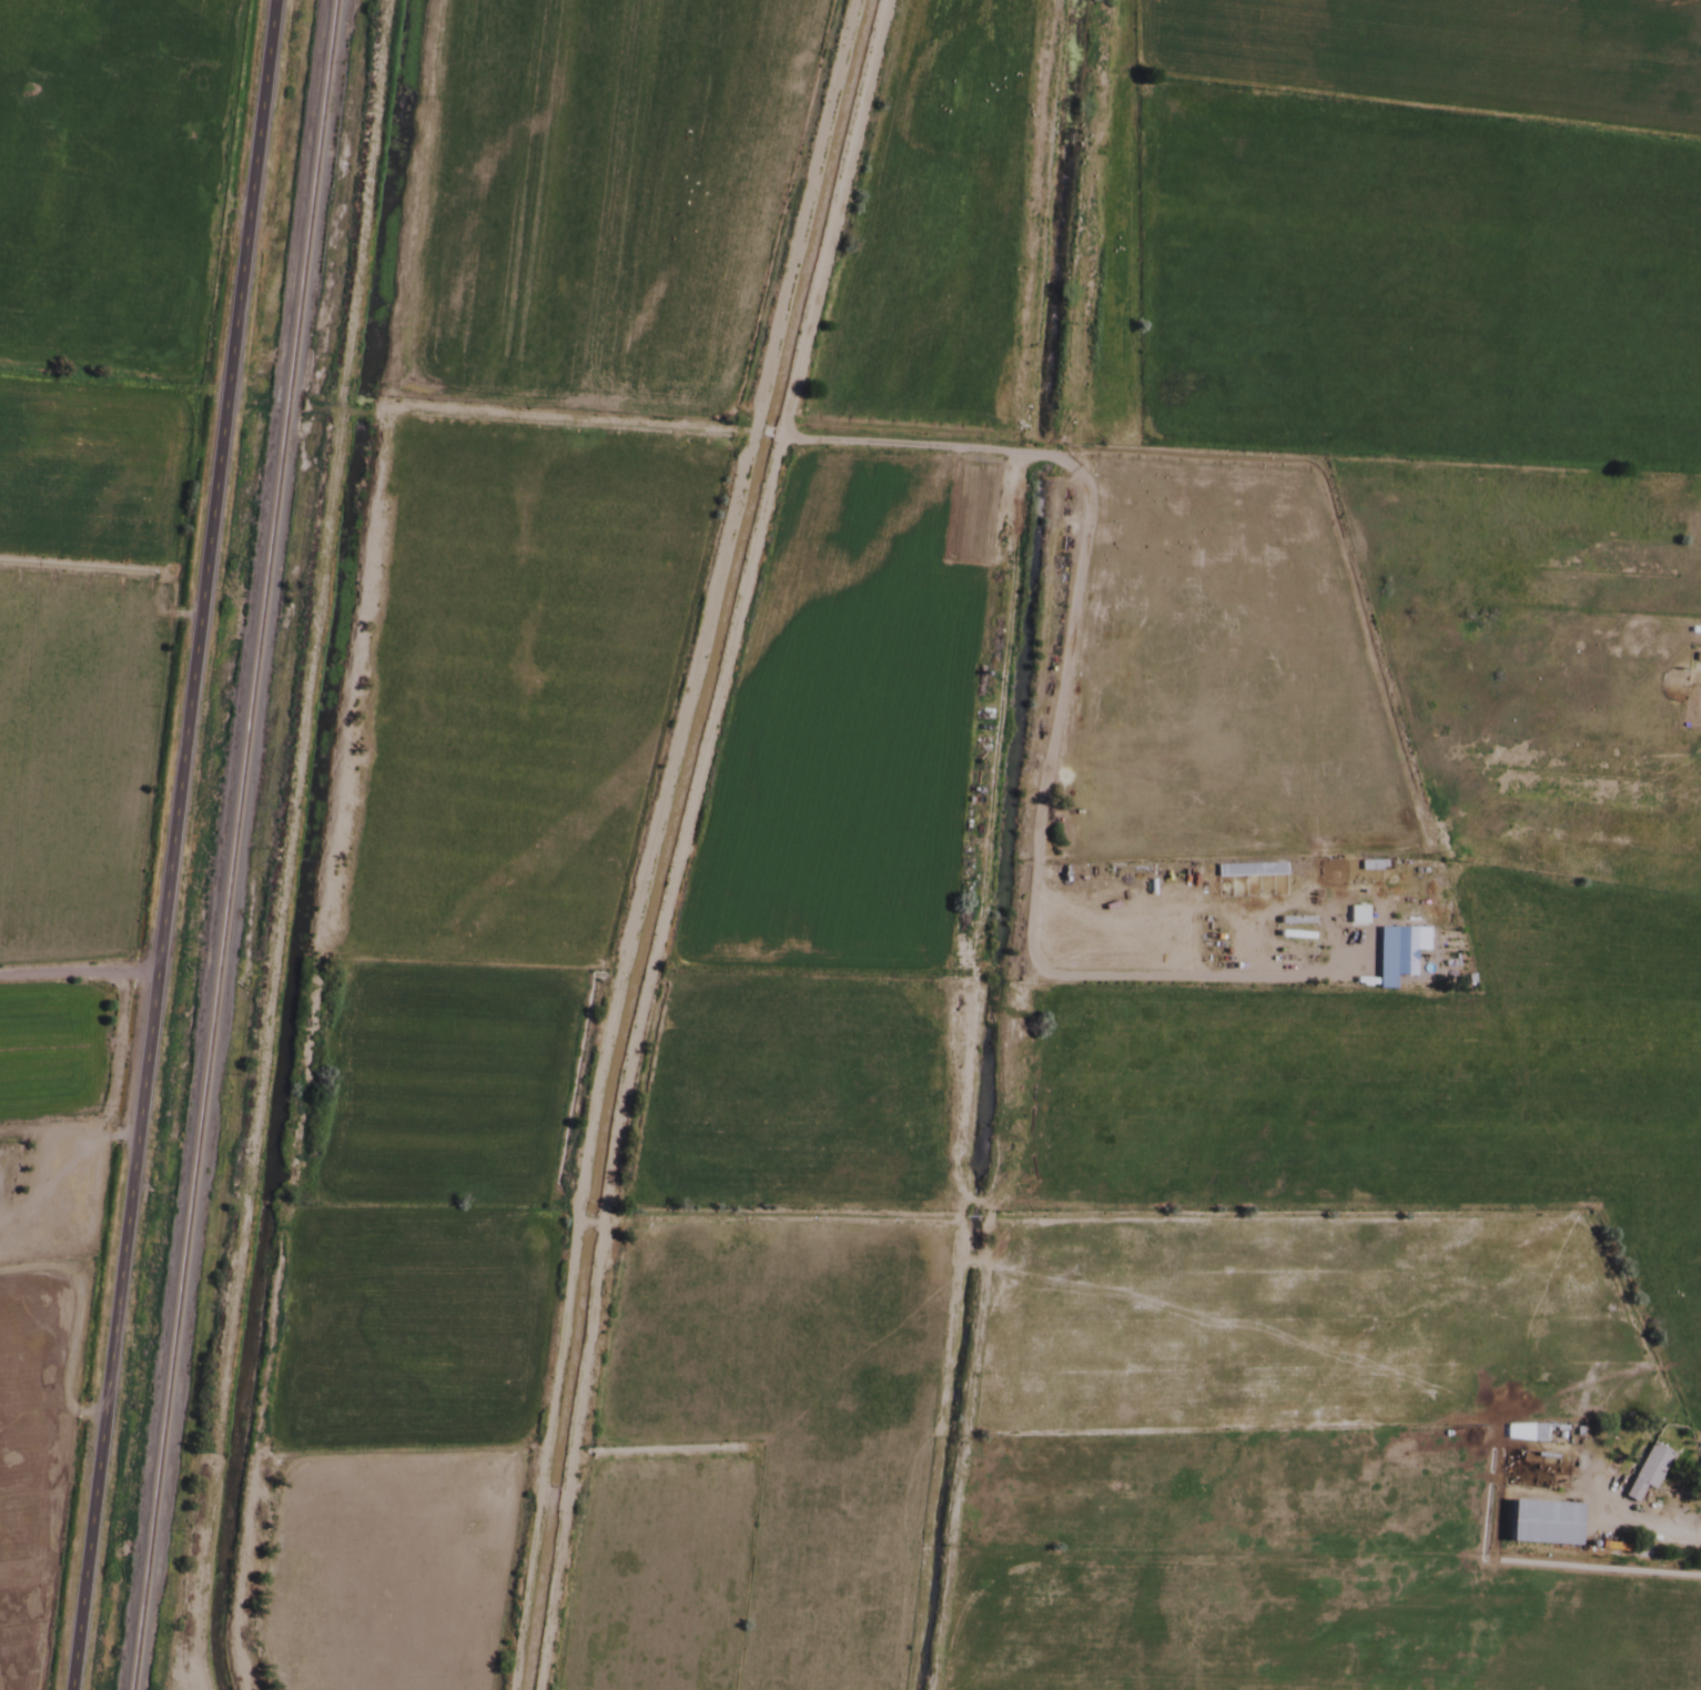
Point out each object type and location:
road: (170, 844)
railway: (230, 844)
building: (1356, 917)
building: (1403, 953)
building: (1523, 1431)
building: (1646, 1471)
building: (1513, 1474)
building: (1540, 1522)

